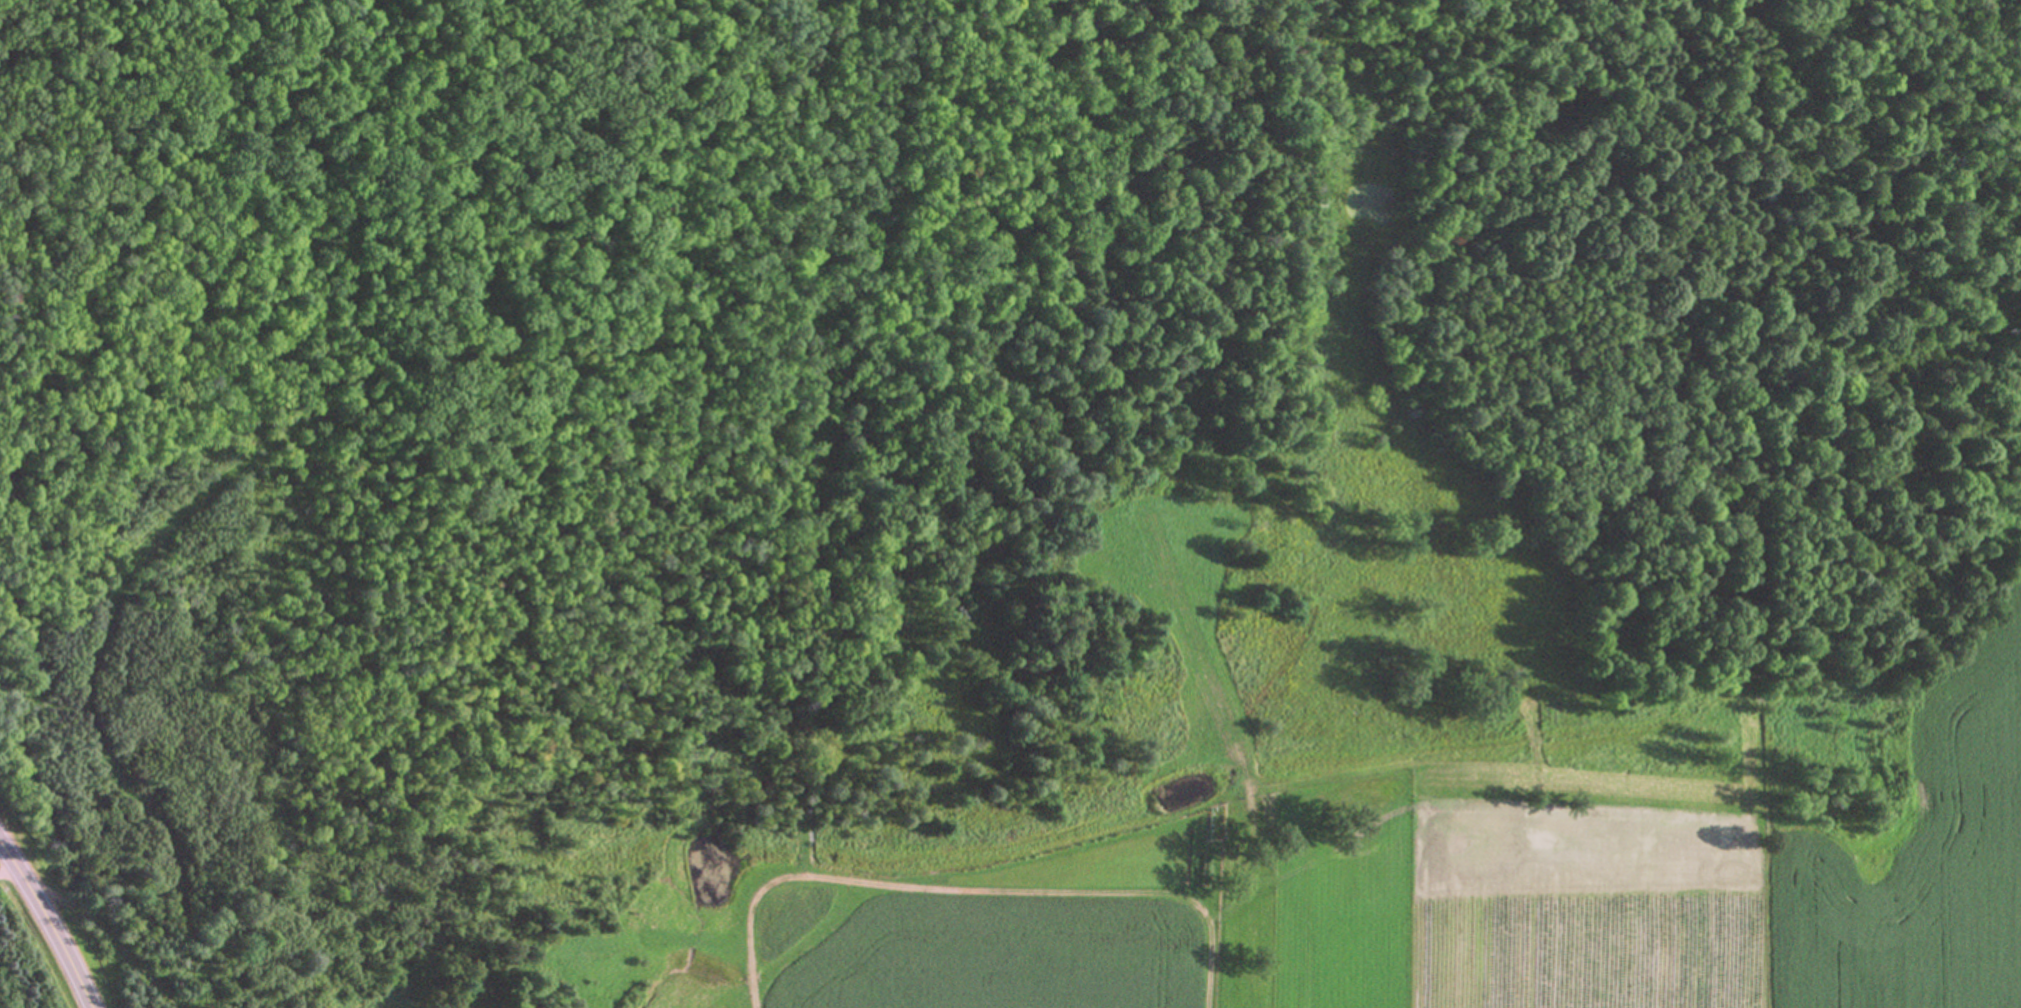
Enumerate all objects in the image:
crop: (1523, 895)
road: (49, 923)

